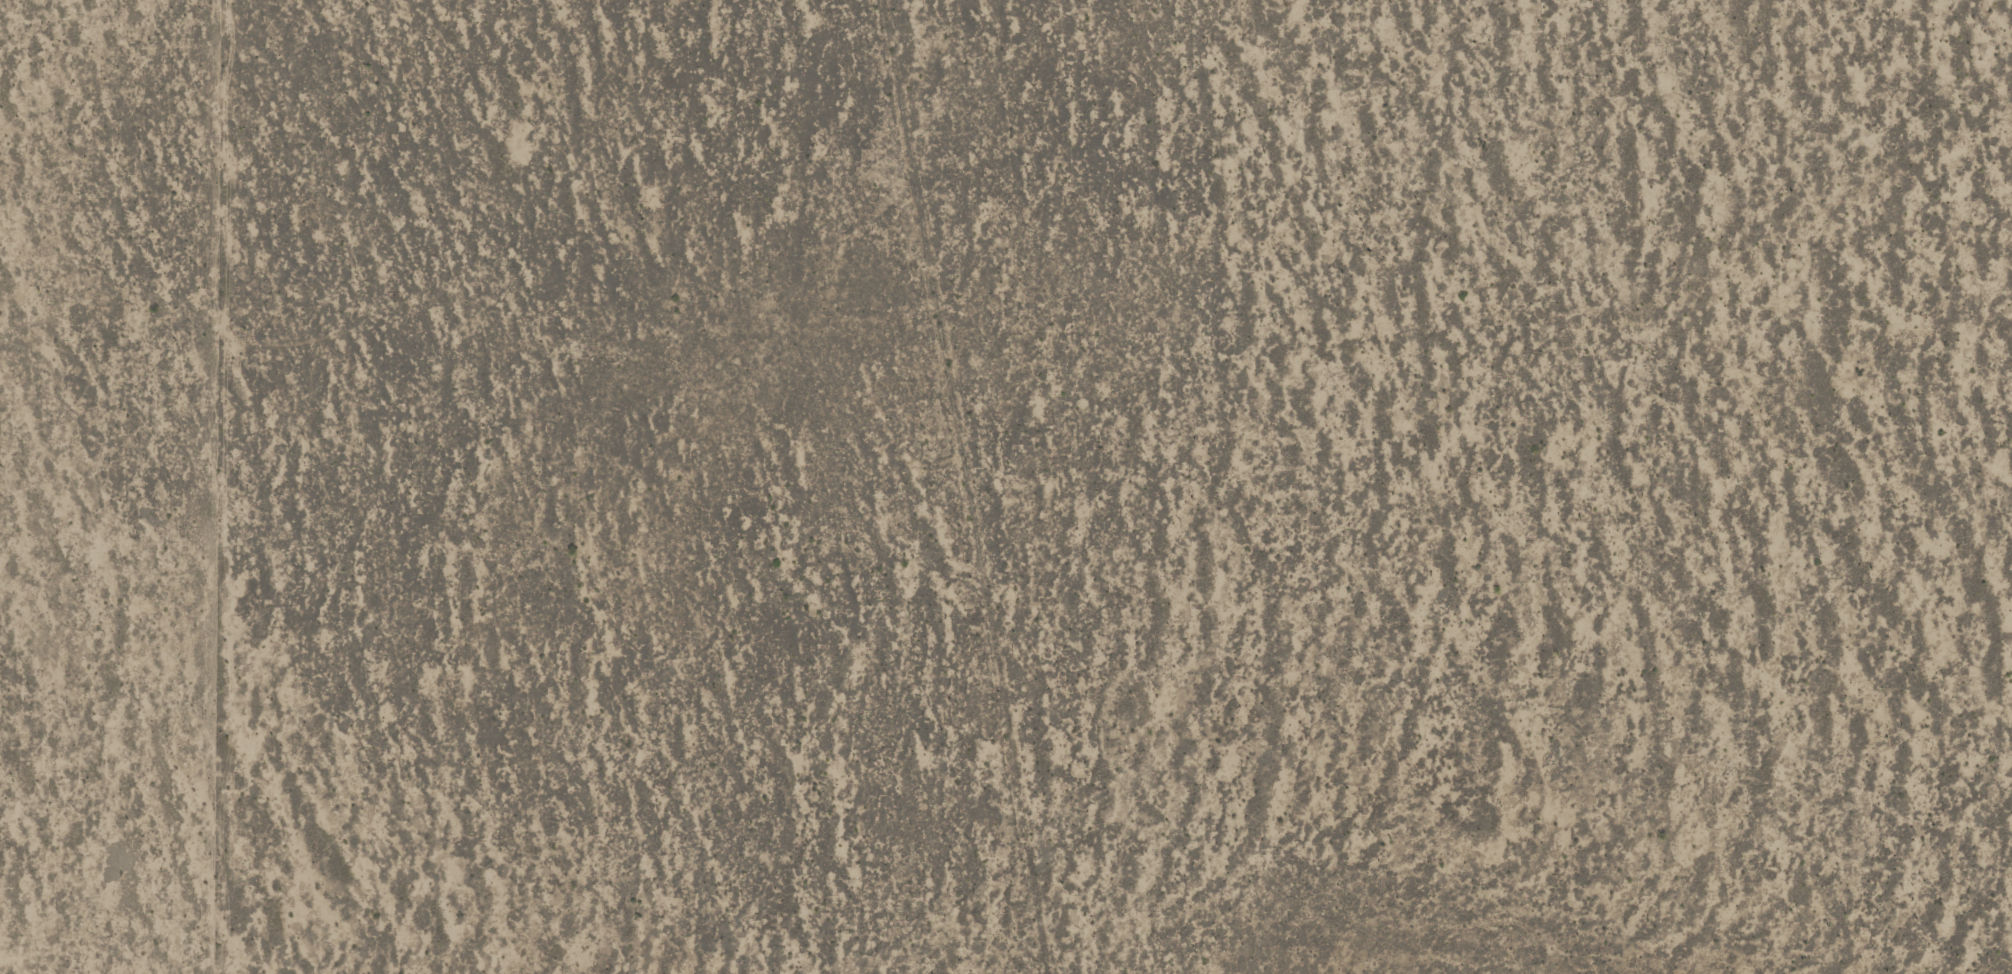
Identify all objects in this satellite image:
road: (948, 486)

